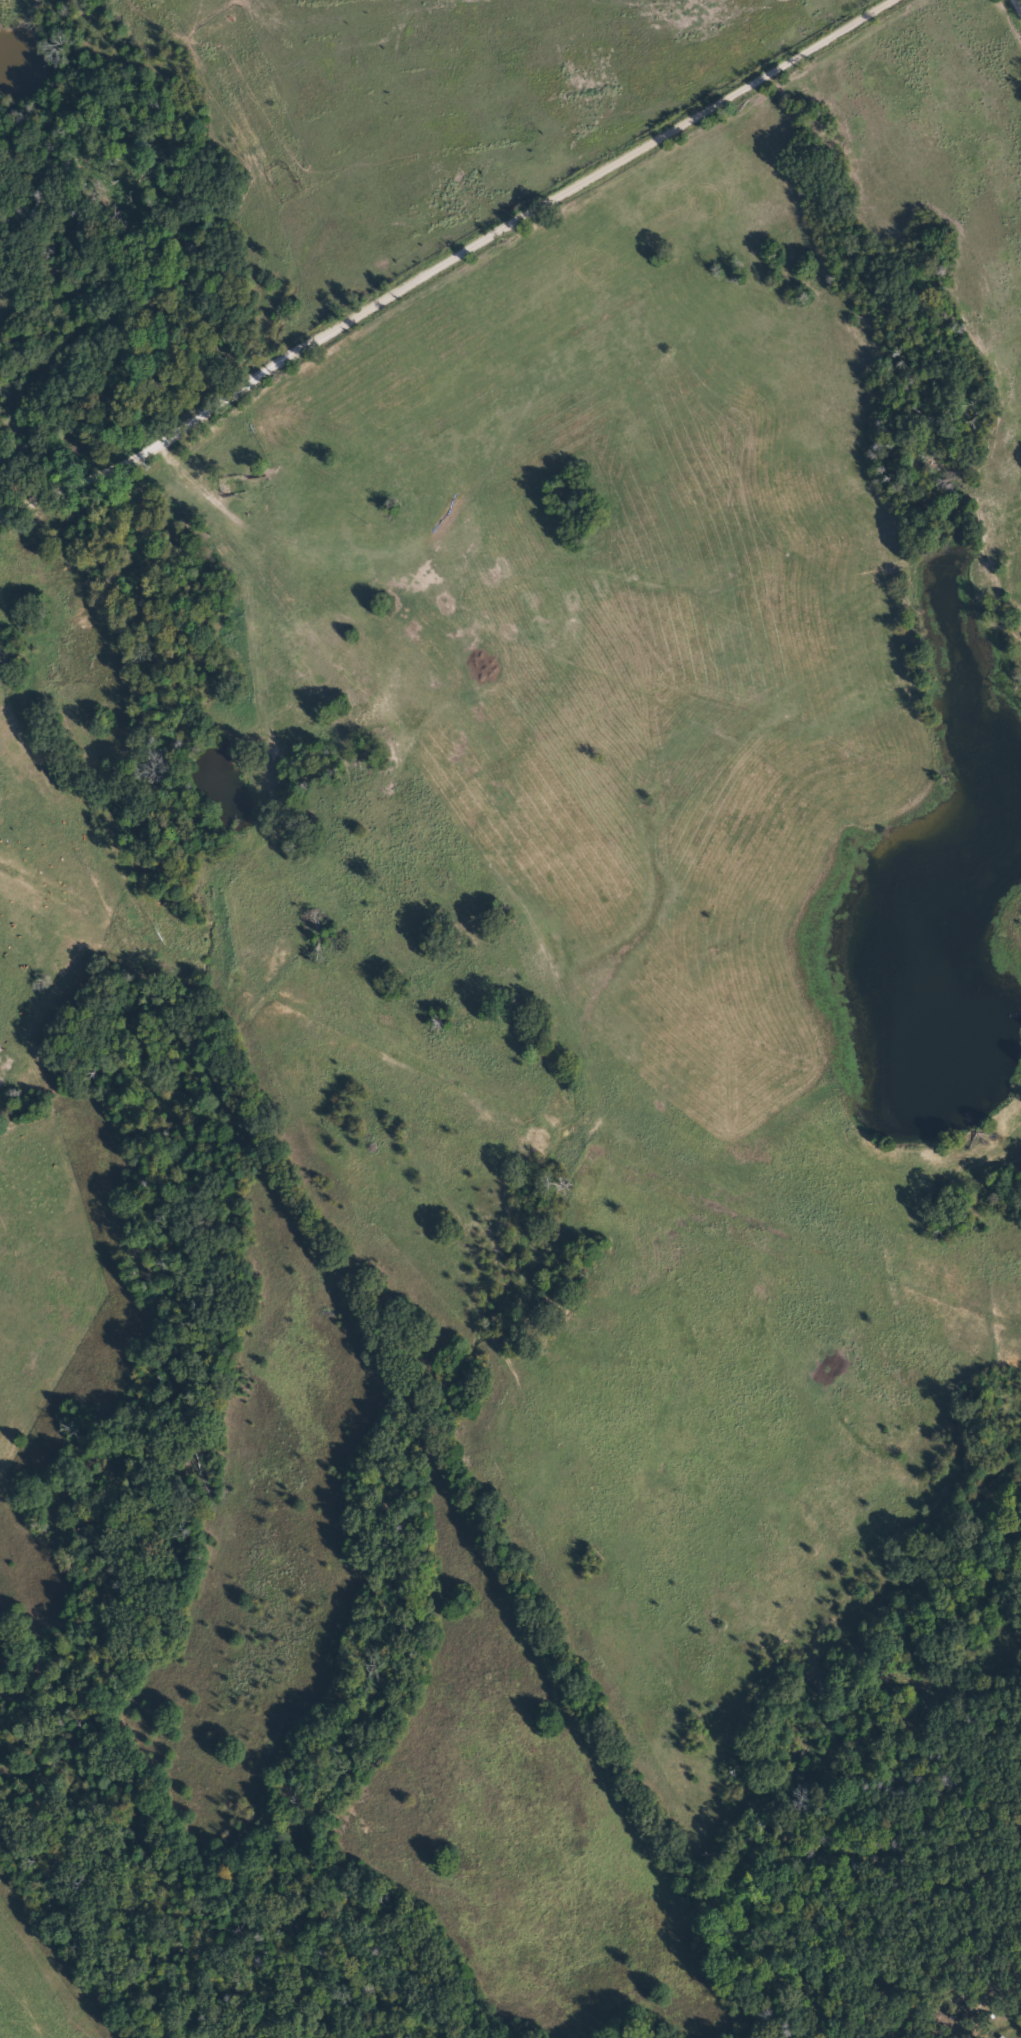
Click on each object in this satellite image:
road: (1018, 3)
road: (441, 258)
building: (261, 478)
road: (295, 644)

